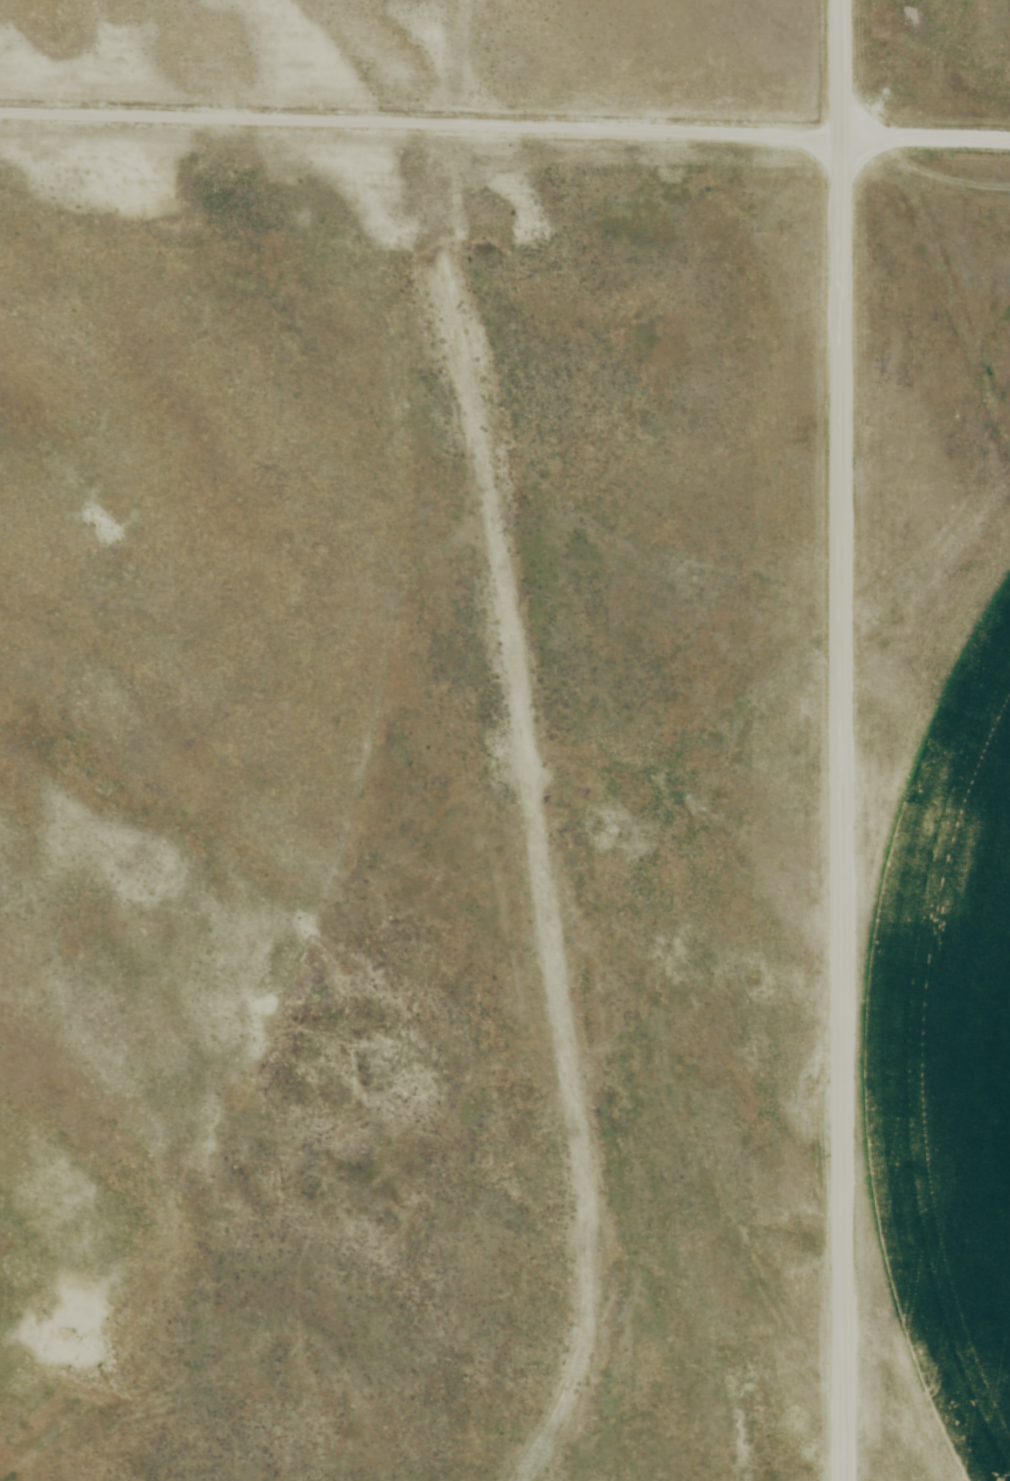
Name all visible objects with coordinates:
road: (924, 136)
road: (840, 740)
crop: (949, 1042)

